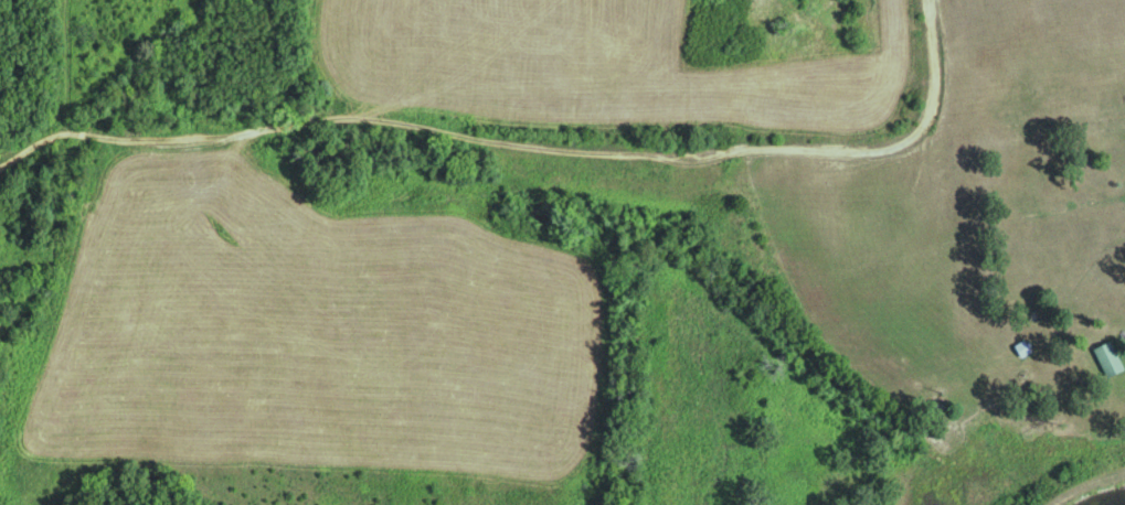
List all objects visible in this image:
road: (526, 141)

